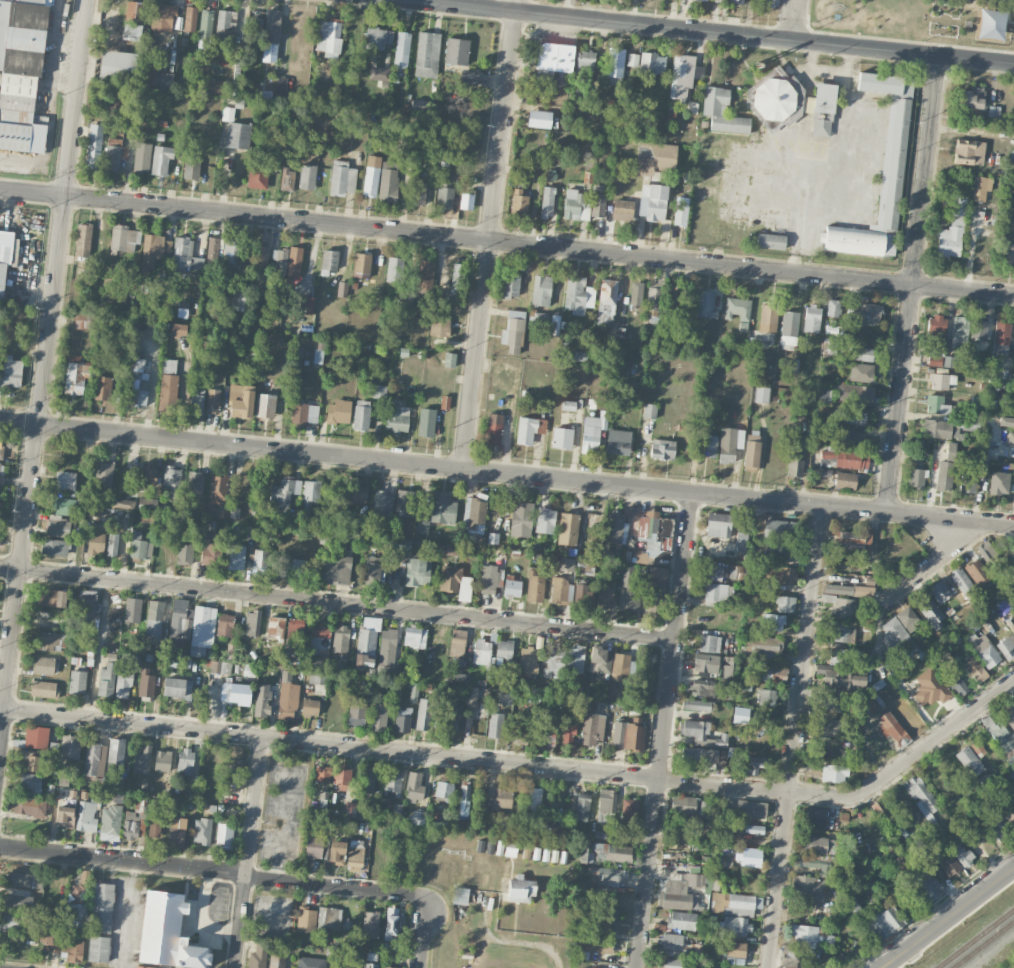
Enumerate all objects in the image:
building: (706, 0)
building: (720, 1)
building: (736, 1)
building: (769, 2)
building: (134, 10)
building: (163, 17)
building: (190, 18)
park: (923, 18)
road: (793, 20)
building: (991, 24)
building: (225, 27)
road: (671, 27)
building: (132, 29)
building: (205, 29)
building: (271, 35)
building: (329, 37)
building: (378, 38)
building: (456, 51)
building: (401, 53)
building: (427, 54)
building: (633, 59)
road: (976, 59)
building: (615, 62)
building: (652, 63)
building: (554, 64)
building: (584, 65)
building: (117, 66)
building: (236, 73)
building: (379, 73)
building: (21, 74)
building: (468, 77)
building: (681, 78)
building: (162, 79)
building: (613, 81)
building: (774, 96)
building: (973, 98)
building: (419, 105)
building: (114, 109)
building: (823, 109)
building: (722, 112)
building: (993, 112)
building: (539, 119)
building: (238, 135)
building: (407, 146)
building: (93, 147)
building: (969, 152)
building: (112, 154)
building: (142, 157)
building: (655, 158)
building: (893, 158)
building: (161, 159)
building: (191, 166)
building: (371, 175)
building: (257, 176)
building: (307, 176)
building: (287, 178)
building: (342, 178)
building: (388, 181)
building: (981, 187)
building: (418, 191)
building: (444, 197)
building: (466, 201)
building: (652, 201)
building: (518, 202)
building: (547, 202)
building: (576, 205)
building: (598, 205)
building: (622, 210)
building: (680, 211)
building: (952, 229)
road: (488, 235)
building: (124, 238)
building: (83, 240)
building: (770, 241)
road: (506, 242)
building: (213, 249)
building: (154, 250)
building: (231, 253)
building: (1008, 254)
building: (185, 256)
building: (261, 257)
building: (329, 259)
building: (280, 261)
building: (4, 264)
building: (361, 265)
building: (293, 269)
building: (394, 269)
building: (425, 276)
building: (457, 279)
building: (510, 284)
road: (913, 285)
building: (342, 289)
building: (541, 290)
building: (637, 293)
building: (578, 295)
building: (673, 297)
building: (406, 299)
building: (607, 301)
building: (242, 302)
building: (307, 302)
building: (653, 302)
building: (705, 303)
building: (737, 308)
building: (833, 308)
building: (848, 314)
building: (865, 314)
building: (768, 318)
building: (811, 318)
building: (541, 319)
building: (81, 321)
building: (555, 325)
building: (439, 327)
building: (789, 328)
building: (936, 328)
building: (178, 329)
building: (832, 329)
building: (959, 330)
building: (981, 330)
building: (513, 332)
building: (1001, 333)
building: (829, 343)
building: (861, 353)
building: (318, 356)
building: (936, 357)
building: (449, 359)
building: (861, 372)
building: (11, 374)
building: (75, 374)
road: (43, 378)
building: (941, 381)
building: (168, 383)
building: (138, 384)
building: (102, 388)
building: (235, 391)
building: (379, 391)
building: (857, 393)
building: (761, 394)
building: (213, 400)
building: (196, 402)
building: (445, 402)
building: (977, 402)
building: (243, 403)
building: (568, 405)
building: (936, 405)
building: (265, 406)
building: (650, 411)
building: (338, 412)
building: (304, 413)
building: (361, 415)
building: (397, 415)
building: (849, 417)
building: (426, 422)
building: (1006, 422)
building: (949, 427)
building: (493, 429)
building: (529, 429)
building: (593, 432)
building: (562, 438)
building: (850, 438)
building: (1011, 439)
building: (618, 442)
building: (707, 445)
building: (727, 445)
building: (662, 449)
building: (752, 449)
building: (1, 450)
building: (796, 456)
building: (844, 458)
building: (0, 467)
road: (443, 468)
building: (819, 472)
building: (944, 475)
building: (147, 477)
building: (104, 478)
building: (916, 478)
building: (171, 479)
building: (66, 480)
building: (845, 480)
building: (999, 482)
building: (195, 483)
building: (967, 483)
building: (216, 489)
building: (285, 493)
building: (357, 493)
building: (309, 495)
building: (404, 500)
building: (382, 502)
building: (123, 503)
building: (63, 504)
building: (148, 504)
building: (443, 508)
building: (234, 512)
building: (474, 514)
building: (146, 517)
building: (521, 519)
road: (951, 519)
building: (545, 520)
building: (718, 524)
building: (422, 525)
building: (614, 525)
building: (58, 527)
building: (568, 528)
building: (779, 530)
building: (624, 533)
building: (650, 537)
building: (853, 537)
building: (95, 541)
building: (740, 541)
building: (112, 545)
building: (55, 547)
building: (398, 548)
building: (141, 549)
building: (451, 549)
building: (782, 550)
building: (986, 551)
building: (184, 554)
building: (212, 554)
building: (236, 557)
building: (260, 561)
building: (566, 563)
building: (291, 567)
building: (336, 568)
road: (927, 569)
building: (372, 571)
building: (418, 572)
building: (710, 573)
building: (977, 573)
building: (782, 575)
building: (489, 579)
building: (455, 582)
building: (964, 585)
building: (512, 586)
building: (535, 587)
building: (653, 589)
building: (561, 590)
building: (862, 591)
building: (939, 591)
building: (717, 594)
building: (583, 595)
building: (605, 596)
building: (629, 596)
building: (50, 597)
building: (838, 601)
building: (86, 603)
building: (785, 604)
building: (1006, 604)
road: (338, 605)
building: (132, 610)
building: (931, 613)
building: (155, 617)
building: (908, 618)
building: (180, 621)
building: (252, 622)
building: (773, 622)
building: (224, 625)
building: (1011, 625)
building: (276, 628)
building: (202, 630)
building: (843, 631)
building: (293, 634)
building: (320, 637)
building: (414, 637)
building: (898, 638)
building: (340, 639)
building: (47, 641)
building: (457, 642)
building: (709, 643)
building: (387, 644)
building: (765, 644)
building: (1007, 647)
building: (365, 649)
building: (504, 649)
building: (983, 650)
building: (484, 652)
building: (845, 655)
building: (528, 660)
building: (599, 660)
building: (565, 661)
building: (705, 663)
building: (44, 665)
building: (620, 666)
building: (646, 666)
building: (219, 667)
building: (975, 669)
building: (727, 671)
building: (773, 674)
building: (842, 677)
building: (106, 680)
building: (77, 681)
building: (318, 681)
building: (146, 682)
building: (956, 682)
road: (1013, 683)
building: (123, 684)
building: (930, 687)
building: (177, 688)
building: (703, 688)
building: (727, 688)
building: (43, 689)
building: (451, 691)
building: (413, 692)
building: (235, 693)
building: (287, 696)
building: (471, 696)
building: (505, 697)
building: (766, 697)
building: (262, 699)
building: (834, 702)
building: (698, 705)
building: (310, 707)
building: (541, 709)
building: (357, 712)
building: (1008, 713)
building: (425, 714)
building: (378, 717)
building: (450, 718)
building: (402, 720)
building: (495, 725)
building: (829, 726)
building: (592, 728)
building: (891, 728)
building: (569, 731)
road: (664, 731)
building: (696, 732)
building: (523, 734)
building: (628, 734)
building: (999, 734)
building: (540, 736)
building: (36, 737)
road: (795, 737)
building: (721, 741)
building: (70, 747)
building: (977, 748)
building: (116, 751)
building: (697, 755)
building: (94, 759)
building: (162, 760)
building: (142, 761)
building: (185, 761)
building: (970, 762)
building: (34, 763)
building: (754, 764)
road: (525, 766)
building: (232, 771)
building: (834, 772)
building: (322, 773)
building: (342, 778)
building: (367, 780)
building: (29, 781)
building: (392, 785)
building: (414, 787)
building: (444, 791)
building: (85, 795)
building: (920, 795)
building: (1013, 796)
building: (465, 797)
building: (502, 799)
building: (533, 800)
building: (27, 805)
building: (140, 805)
building: (684, 805)
building: (606, 806)
building: (349, 809)
building: (582, 809)
building: (629, 809)
building: (750, 809)
building: (879, 809)
building: (1008, 811)
building: (65, 816)
building: (85, 816)
building: (815, 816)
building: (416, 817)
building: (110, 823)
building: (130, 825)
building: (154, 827)
building: (998, 827)
building: (754, 829)
building: (177, 831)
building: (202, 831)
building: (224, 836)
building: (676, 837)
building: (812, 844)
building: (314, 847)
building: (510, 848)
building: (336, 851)
road: (248, 853)
building: (355, 853)
building: (584, 853)
building: (618, 853)
building: (961, 854)
building: (747, 855)
road: (123, 859)
building: (723, 861)
building: (811, 862)
building: (948, 863)
building: (610, 876)
building: (25, 880)
building: (926, 885)
building: (808, 887)
road: (335, 888)
building: (520, 889)
building: (680, 891)
building: (460, 895)
building: (16, 897)
building: (78, 899)
building: (744, 903)
building: (851, 906)
building: (101, 907)
building: (328, 918)
road: (948, 918)
building: (609, 919)
building: (306, 920)
building: (681, 920)
building: (13, 922)
building: (883, 922)
building: (371, 924)
building: (736, 926)
building: (167, 933)
road: (422, 933)
building: (808, 933)
building: (48, 935)
railway: (975, 938)
road: (516, 941)
building: (673, 944)
railway: (982, 944)
building: (597, 945)
building: (72, 947)
building: (98, 949)
building: (735, 952)
building: (582, 954)
building: (258, 956)
building: (789, 956)
building: (276, 960)
building: (311, 962)
building: (670, 963)
building: (370, 965)
building: (333, 967)
building: (388, 967)
building: (597, 967)

